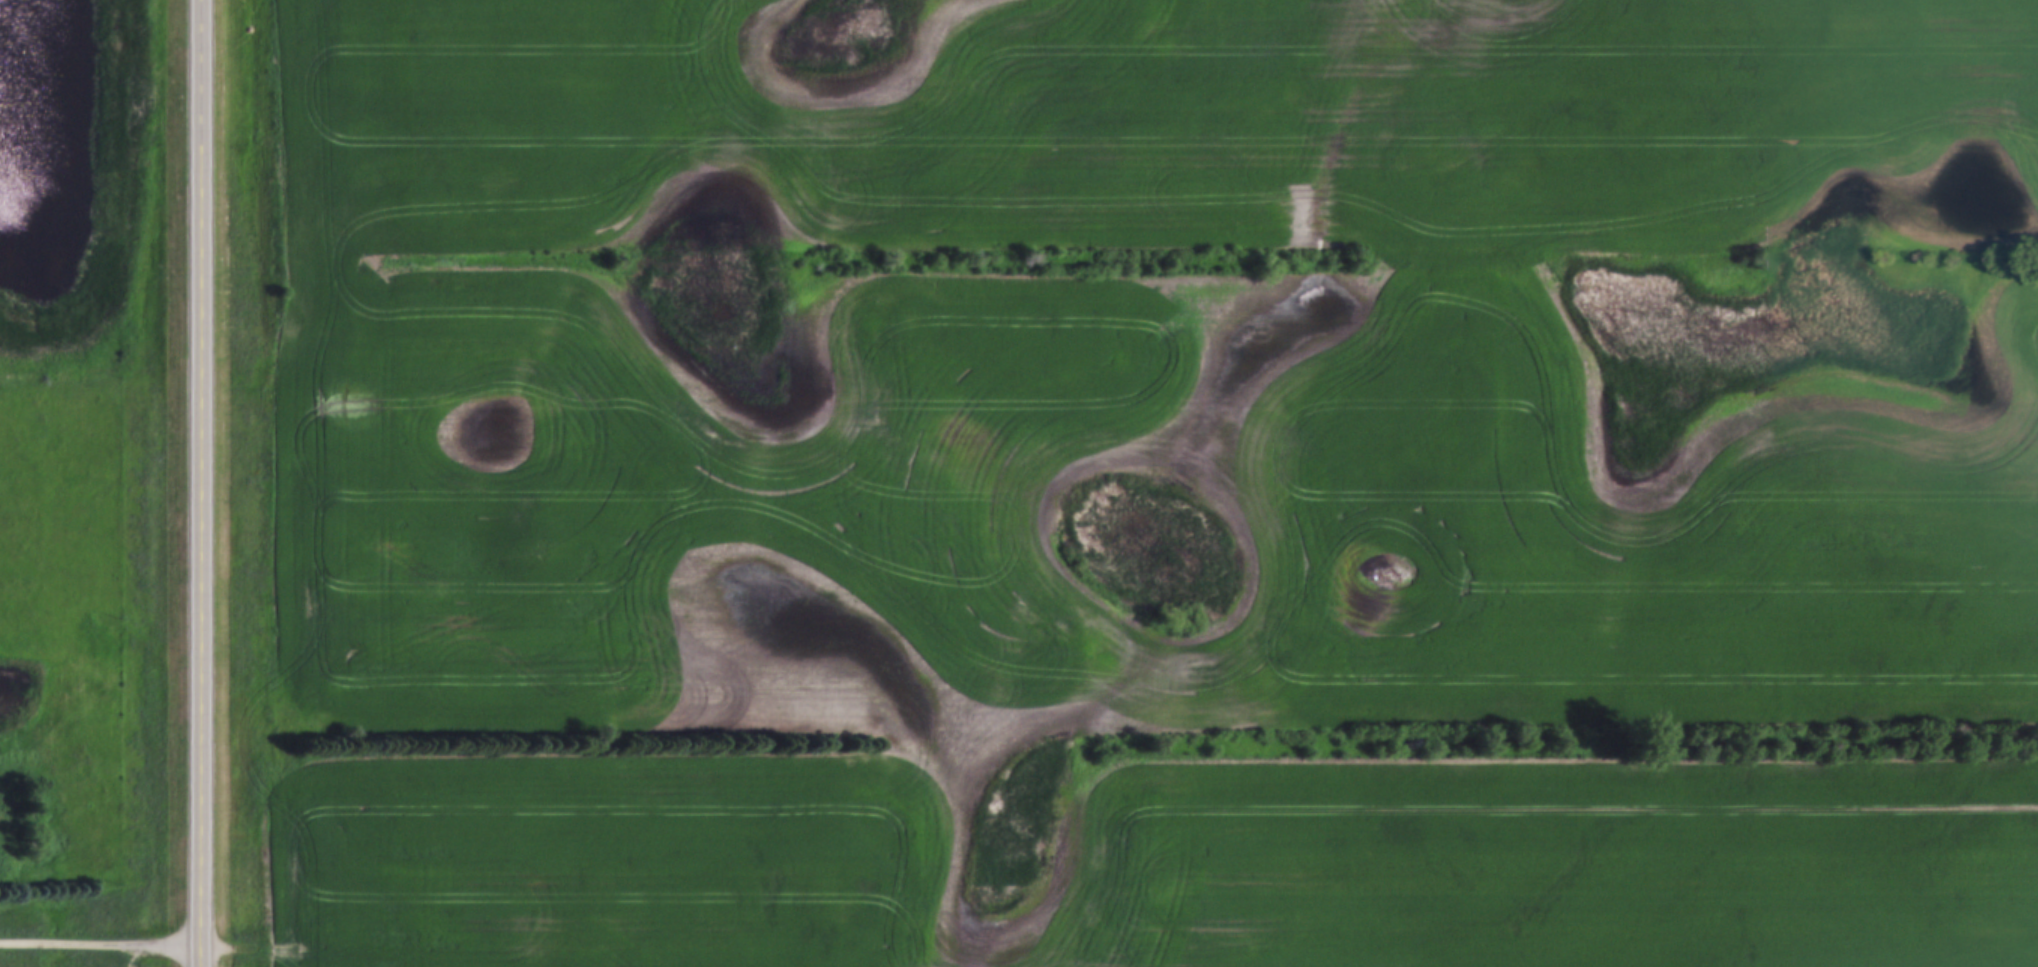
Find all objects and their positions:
road: (199, 483)
road: (99, 948)
road: (133, 958)

